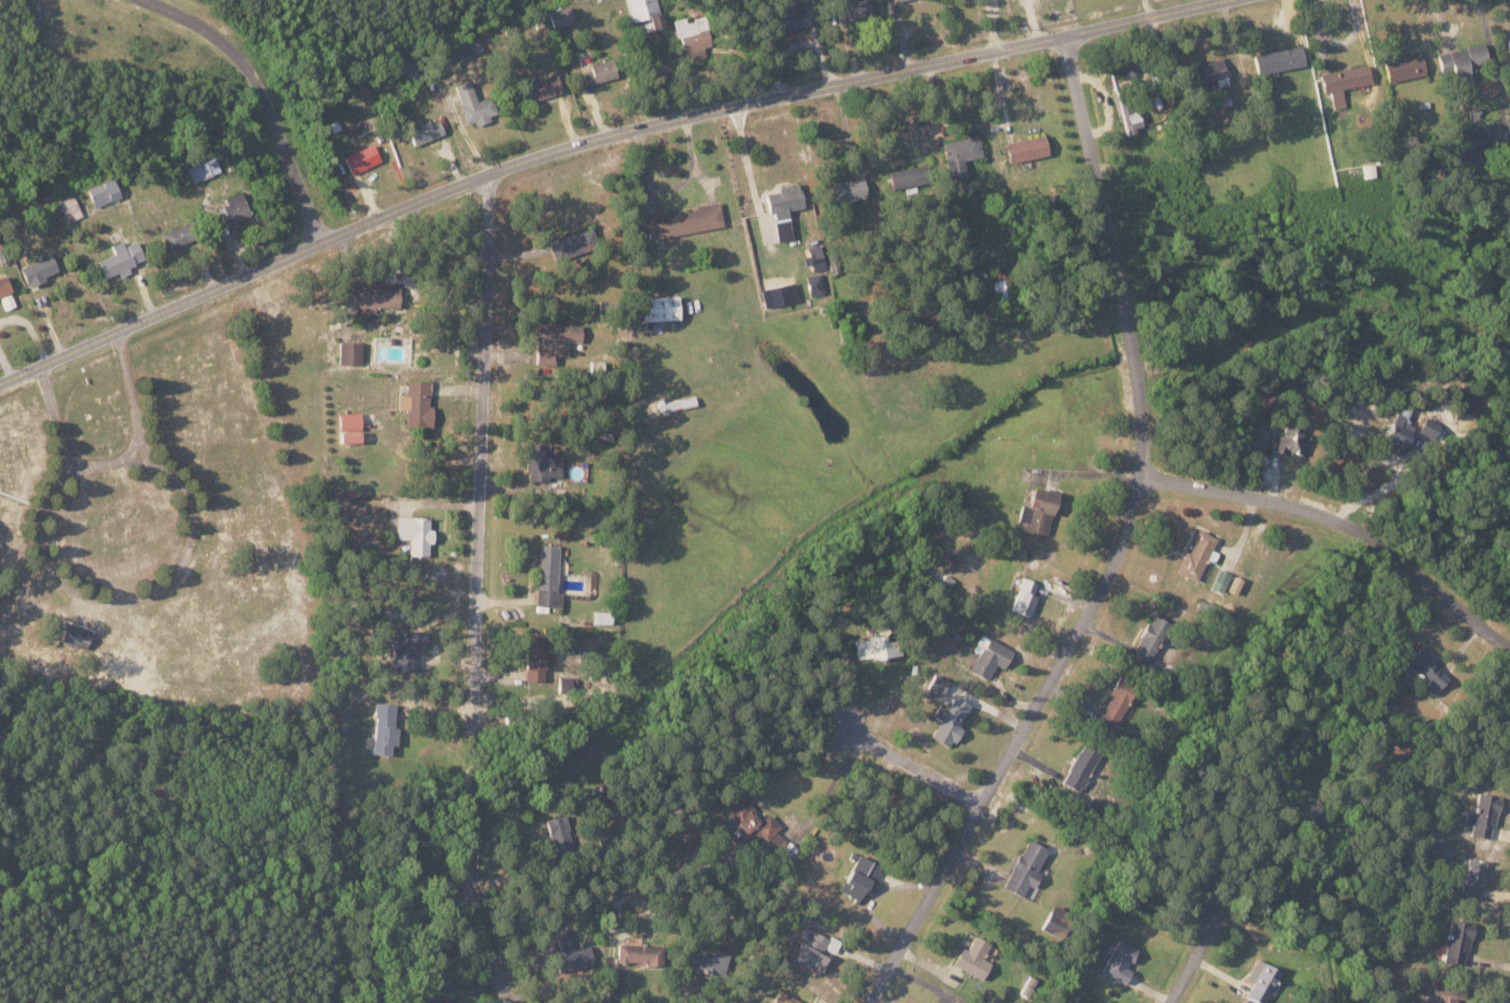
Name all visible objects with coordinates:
building: (898, 0)
building: (854, 9)
building: (646, 12)
building: (560, 17)
building: (789, 18)
building: (689, 26)
building: (1509, 41)
building: (1462, 58)
building: (1280, 59)
building: (1404, 66)
building: (1210, 70)
building: (600, 71)
building: (1124, 74)
building: (1344, 82)
building: (544, 87)
road: (260, 96)
building: (474, 104)
building: (1130, 115)
building: (425, 132)
road: (595, 146)
building: (1470, 147)
building: (1027, 148)
building: (960, 154)
building: (362, 159)
building: (203, 169)
building: (906, 177)
building: (846, 190)
building: (104, 192)
building: (232, 208)
building: (784, 208)
building: (687, 221)
building: (177, 235)
building: (571, 244)
building: (121, 256)
building: (815, 258)
building: (39, 269)
building: (816, 284)
building: (4, 285)
building: (1000, 291)
building: (374, 296)
building: (7, 300)
building: (660, 307)
building: (555, 339)
building: (350, 351)
building: (417, 402)
building: (1465, 403)
building: (350, 426)
building: (1408, 429)
building: (1290, 438)
building: (542, 460)
road: (118, 461)
building: (1039, 509)
road: (1344, 522)
building: (415, 532)
road: (1121, 544)
park: (149, 551)
building: (1196, 554)
building: (548, 575)
building: (1221, 579)
building: (1235, 584)
road: (477, 591)
building: (1026, 596)
road: (126, 598)
building: (601, 616)
building: (76, 636)
building: (1151, 637)
building: (407, 647)
building: (875, 647)
building: (536, 655)
building: (992, 657)
building: (1426, 667)
building: (938, 683)
building: (1118, 699)
building: (951, 720)
building: (384, 728)
road: (915, 767)
building: (1081, 767)
building: (1484, 815)
building: (752, 820)
building: (559, 831)
building: (1026, 867)
building: (860, 877)
building: (1475, 877)
building: (610, 920)
building: (1459, 940)
building: (570, 951)
building: (813, 951)
building: (639, 953)
building: (973, 957)
building: (1120, 961)
road: (1194, 962)
building: (708, 963)
building: (1264, 983)
building: (1450, 992)
building: (786, 998)
building: (444, 1001)
building: (938, 1002)

